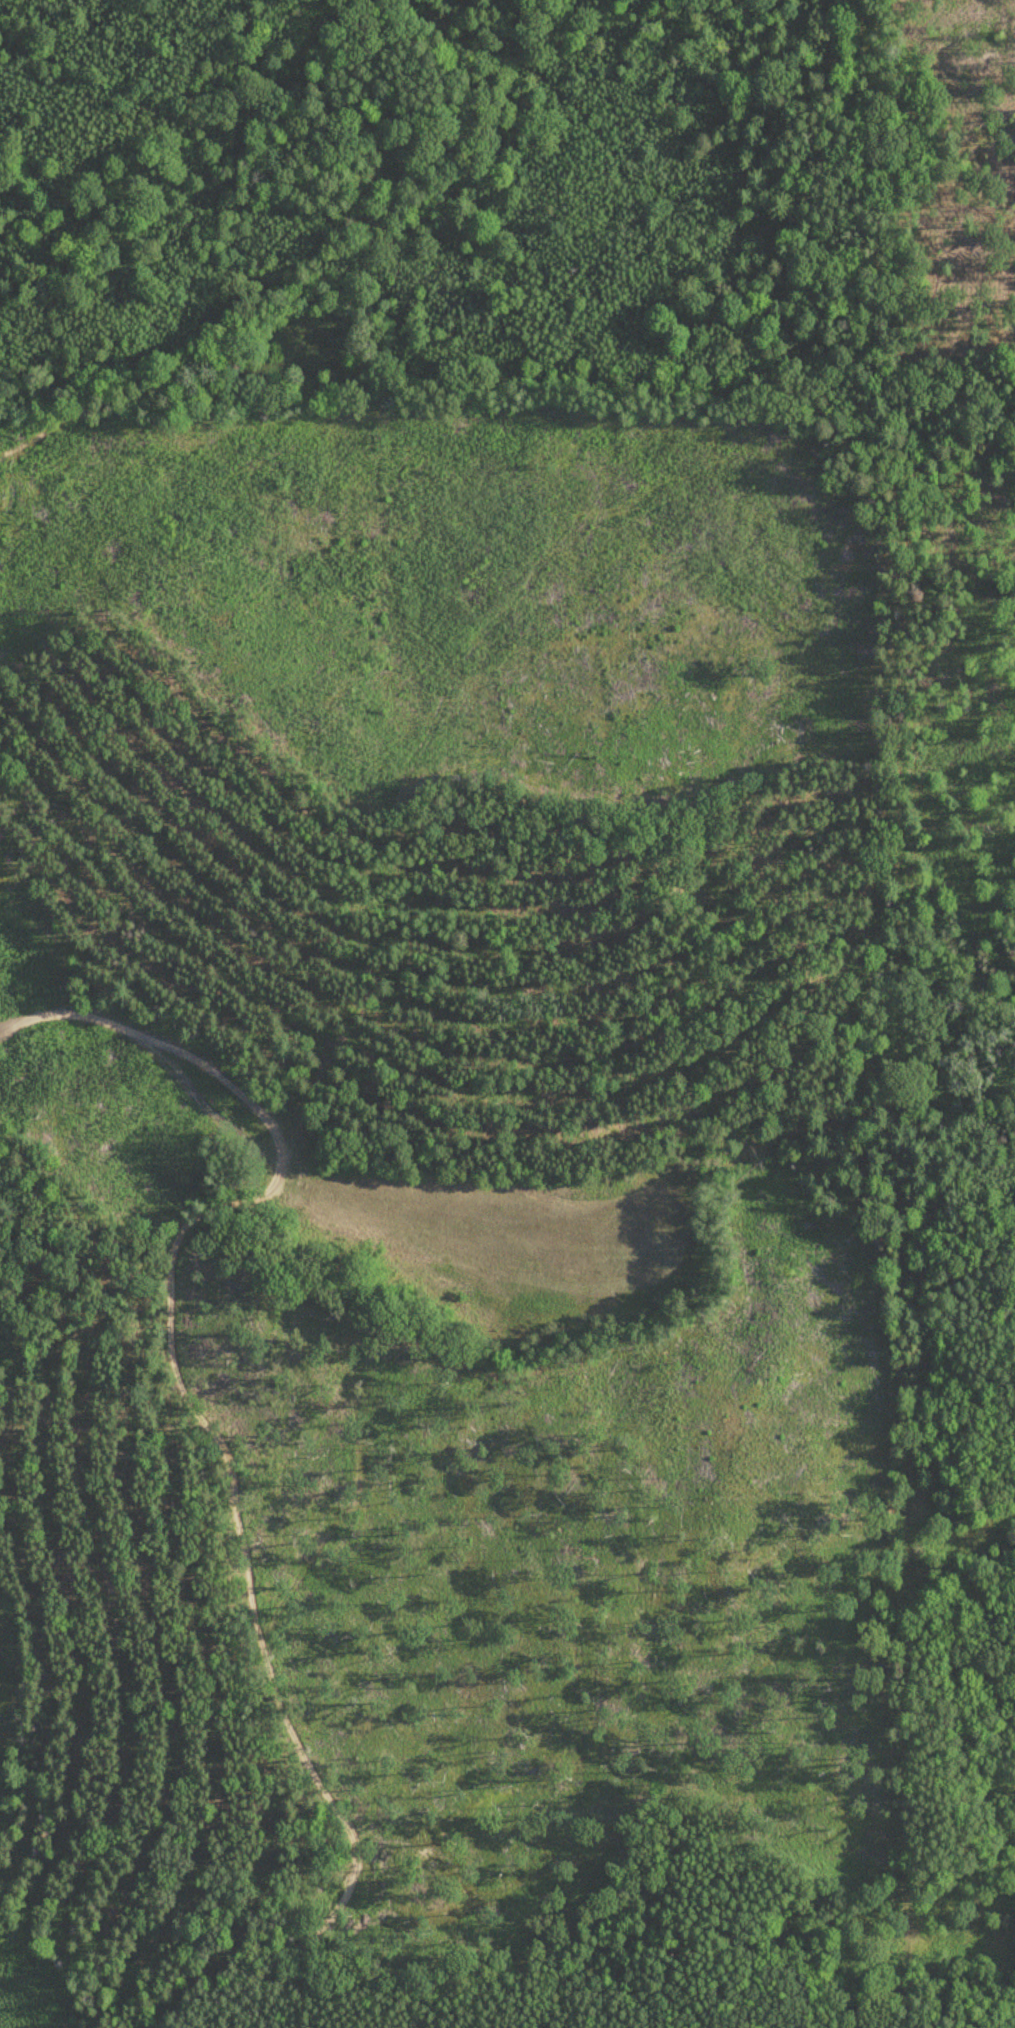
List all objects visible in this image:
road: (840, 68)
road: (539, 76)
road: (708, 174)
road: (895, 698)
road: (426, 1176)
road: (251, 1591)

